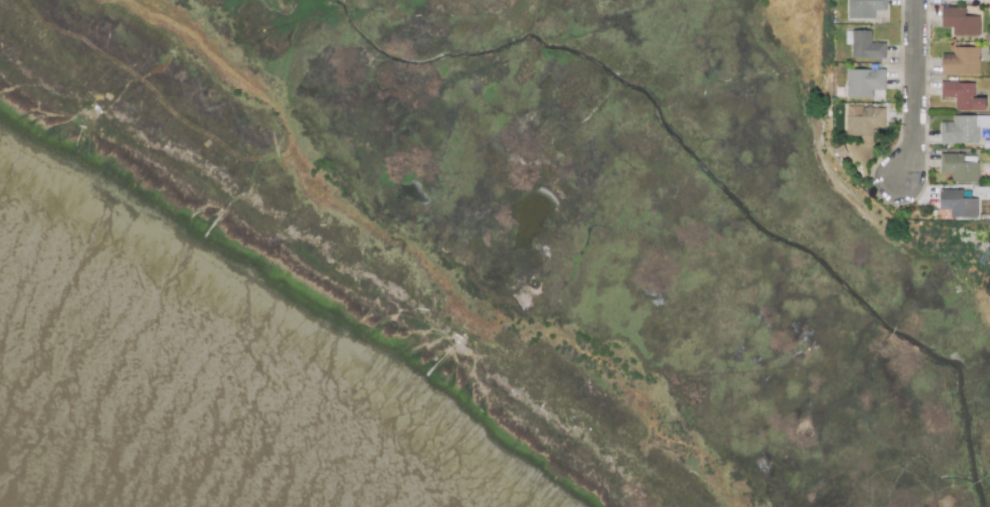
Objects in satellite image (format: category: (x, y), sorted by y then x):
building: (963, 0)
building: (864, 8)
building: (959, 21)
building: (863, 45)
building: (960, 61)
building: (864, 81)
road: (915, 90)
building: (962, 95)
building: (863, 121)
building: (962, 129)
building: (959, 167)
building: (957, 203)

